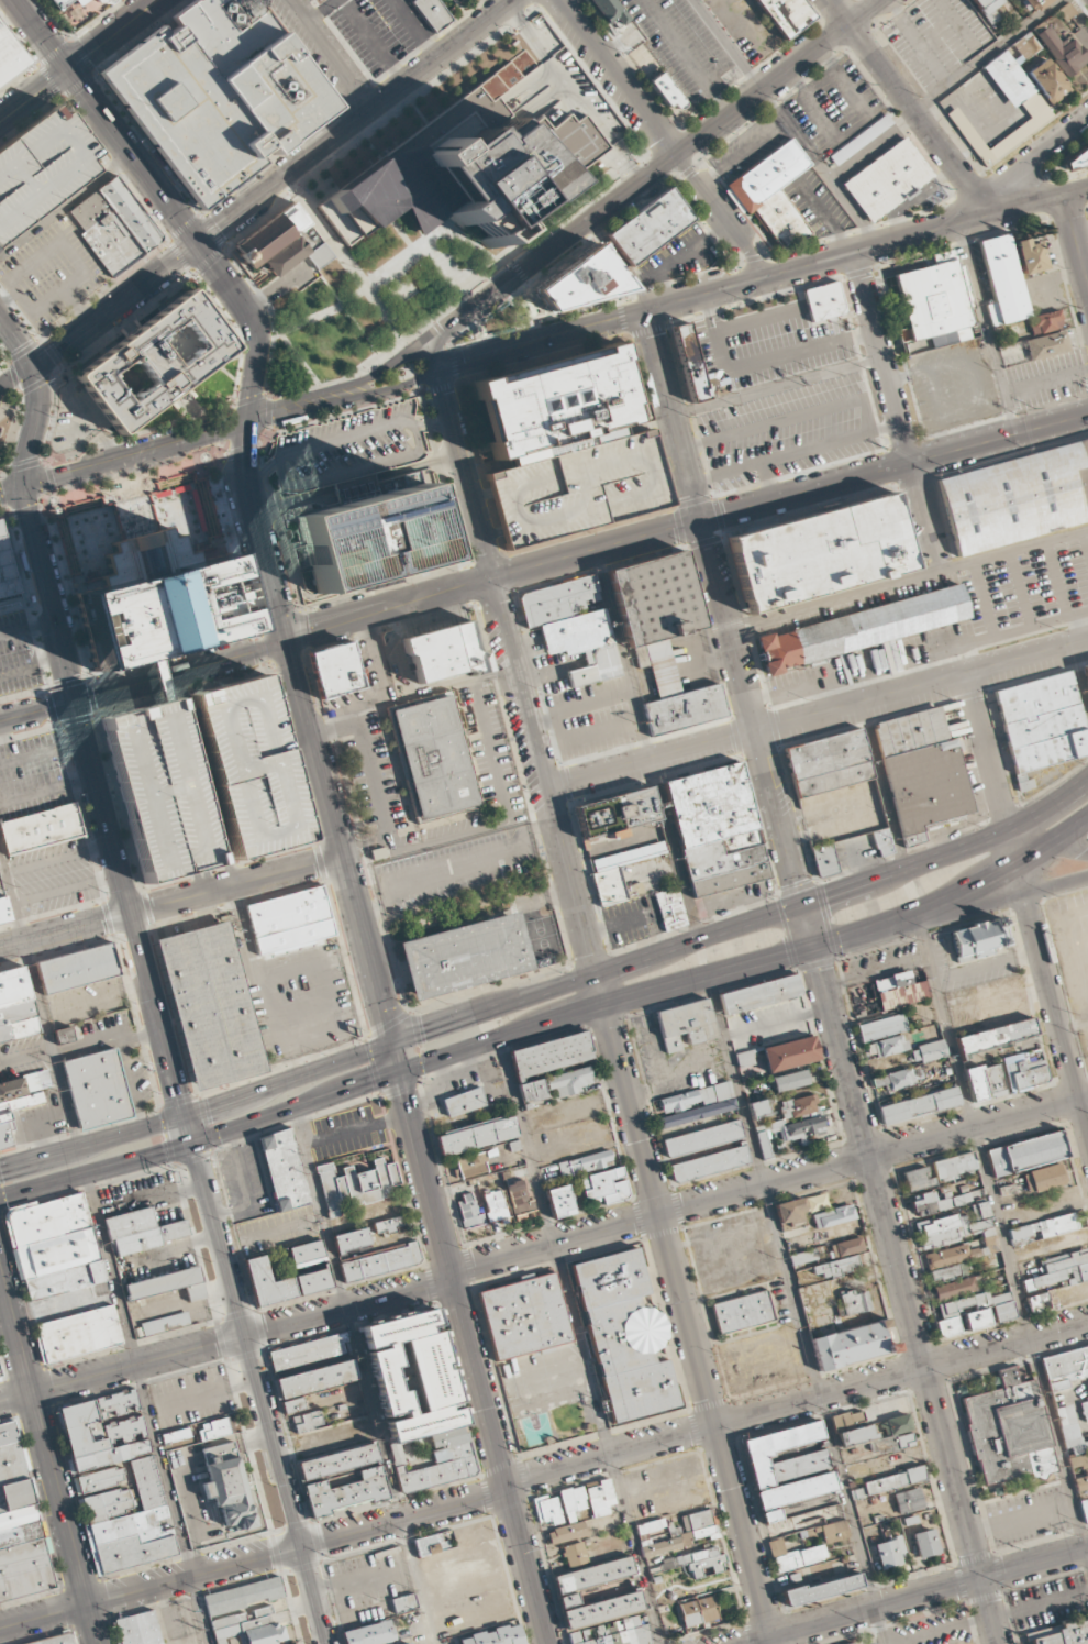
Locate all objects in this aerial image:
building: (81, 1)
building: (110, 2)
building: (60, 3)
building: (1036, 3)
road: (321, 11)
building: (988, 11)
road: (841, 12)
road: (867, 12)
building: (432, 14)
building: (610, 14)
building: (786, 14)
parking lot: (381, 31)
parking lot: (934, 34)
parking lot: (687, 44)
building: (1025, 46)
building: (1062, 49)
building: (10, 56)
road: (80, 60)
traffic signals: (69, 70)
building: (1008, 78)
building: (1047, 81)
building: (665, 91)
building: (219, 92)
road: (919, 120)
road: (107, 122)
road: (359, 122)
building: (1019, 133)
road: (664, 139)
building: (861, 140)
building: (1077, 158)
road: (1031, 162)
building: (40, 167)
parking garage: (40, 167)
road: (415, 169)
building: (509, 169)
building: (887, 180)
road: (1076, 191)
building: (771, 192)
road: (65, 202)
road: (613, 205)
road: (1025, 206)
building: (114, 227)
building: (650, 227)
road: (1075, 239)
building: (271, 243)
traffic signals: (198, 244)
building: (1030, 256)
building: (1002, 280)
building: (578, 282)
building: (936, 299)
road: (681, 301)
building: (824, 301)
road: (115, 306)
building: (1045, 322)
road: (253, 324)
road: (991, 329)
road: (16, 341)
parking lot: (766, 343)
building: (1048, 344)
building: (689, 362)
building: (152, 363)
traffic signals: (32, 366)
road: (15, 377)
parking lot: (1048, 380)
building: (553, 400)
road: (312, 401)
road: (895, 409)
traffic signals: (248, 422)
park: (4, 427)
road: (34, 427)
parking lot: (788, 430)
road: (124, 460)
traffic signals: (22, 488)
building: (577, 488)
parking garage: (577, 488)
building: (1013, 498)
building: (369, 538)
railway: (1007, 549)
building: (820, 552)
road: (542, 563)
building: (7, 581)
parking lot: (1028, 589)
railway: (38, 604)
building: (160, 611)
building: (574, 625)
building: (861, 629)
building: (663, 637)
building: (444, 653)
parking lot: (16, 654)
parking lot: (1037, 667)
building: (335, 670)
building: (1086, 673)
road: (817, 716)
building: (1040, 725)
road: (312, 748)
building: (433, 755)
building: (249, 766)
building: (921, 773)
parking lot: (32, 777)
building: (835, 787)
building: (162, 790)
road: (100, 802)
building: (615, 814)
building: (42, 828)
building: (717, 829)
building: (882, 842)
road: (1047, 842)
building: (823, 860)
parking lot: (455, 868)
building: (618, 871)
parking lot: (54, 876)
traffic signals: (796, 880)
building: (633, 891)
building: (0, 892)
traffic signals: (826, 897)
road: (1002, 897)
road: (1023, 901)
road: (170, 903)
building: (669, 909)
building: (3, 912)
building: (291, 919)
building: (980, 937)
traffic signals: (784, 955)
building: (465, 956)
road: (640, 957)
road: (751, 964)
building: (78, 968)
traffic signals: (821, 971)
railway: (135, 974)
road: (822, 978)
railway: (142, 987)
building: (900, 990)
building: (761, 993)
building: (211, 1004)
parking lot: (301, 1005)
building: (1003, 1005)
building: (15, 1006)
road: (604, 1006)
building: (686, 1024)
traffic signals: (424, 1030)
building: (885, 1033)
building: (64, 1035)
building: (997, 1035)
road: (49, 1045)
building: (789, 1052)
building: (551, 1055)
building: (744, 1059)
building: (917, 1066)
building: (1029, 1072)
building: (790, 1080)
building: (568, 1081)
building: (986, 1081)
traffic signals: (368, 1082)
building: (98, 1088)
building: (23, 1090)
building: (532, 1091)
traffic signals: (177, 1093)
traffic signals: (402, 1095)
building: (464, 1102)
building: (696, 1104)
building: (919, 1105)
traffic signals: (210, 1106)
building: (798, 1106)
building: (758, 1108)
road: (187, 1129)
building: (4, 1130)
parking lot: (345, 1133)
building: (788, 1133)
building: (477, 1135)
building: (702, 1138)
road: (200, 1140)
road: (91, 1141)
traffic signals: (162, 1152)
building: (1026, 1154)
building: (585, 1163)
building: (709, 1163)
building: (471, 1165)
traffic signals: (2, 1167)
building: (954, 1167)
building: (284, 1170)
building: (1045, 1178)
building: (917, 1179)
building: (355, 1185)
building: (604, 1187)
building: (519, 1199)
building: (559, 1202)
building: (817, 1202)
building: (935, 1203)
building: (495, 1205)
building: (979, 1211)
building: (468, 1212)
building: (790, 1212)
building: (833, 1216)
building: (47, 1221)
building: (389, 1225)
building: (1042, 1228)
building: (142, 1231)
parking lot: (277, 1232)
building: (955, 1232)
road: (1000, 1233)
building: (351, 1239)
road: (542, 1246)
building: (846, 1247)
building: (56, 1254)
building: (307, 1254)
building: (948, 1256)
building: (802, 1257)
building: (380, 1261)
building: (841, 1266)
building: (1061, 1270)
building: (948, 1272)
building: (64, 1280)
building: (312, 1281)
building: (267, 1283)
building: (168, 1284)
building: (954, 1288)
road: (791, 1293)
building: (854, 1302)
building: (1041, 1302)
building: (67, 1303)
building: (743, 1312)
building: (973, 1313)
building: (524, 1315)
building: (166, 1323)
building: (398, 1326)
building: (641, 1331)
building: (78, 1333)
building: (604, 1337)
road: (578, 1339)
building: (851, 1344)
building: (308, 1351)
road: (471, 1358)
building: (1064, 1367)
building: (0, 1371)
building: (430, 1372)
road: (364, 1377)
building: (317, 1379)
building: (0, 1380)
building: (388, 1382)
road: (258, 1393)
parking lot: (191, 1398)
building: (293, 1404)
road: (147, 1409)
building: (1085, 1409)
building: (308, 1421)
building: (847, 1421)
building: (423, 1423)
building: (897, 1424)
building: (80, 1428)
building: (215, 1430)
building: (1008, 1431)
building: (8, 1433)
building: (176, 1435)
building: (855, 1435)
building: (201, 1436)
building: (1073, 1438)
building: (904, 1441)
building: (776, 1449)
road: (48, 1459)
building: (337, 1461)
building: (11, 1463)
building: (800, 1466)
road: (543, 1472)
parking lot: (621, 1474)
building: (429, 1475)
building: (99, 1480)
building: (888, 1482)
building: (1080, 1482)
building: (227, 1485)
parking lot: (665, 1487)
building: (347, 1491)
building: (16, 1493)
building: (792, 1493)
building: (600, 1494)
building: (910, 1500)
building: (571, 1501)
building: (547, 1509)
building: (1084, 1510)
building: (19, 1516)
parking lot: (1028, 1516)
building: (697, 1520)
building: (648, 1526)
building: (834, 1532)
building: (566, 1533)
building: (704, 1533)
building: (685, 1537)
road: (1042, 1540)
building: (926, 1542)
building: (429, 1545)
building: (22, 1552)
building: (891, 1552)
building: (574, 1554)
building: (795, 1556)
road: (975, 1558)
building: (667, 1563)
building: (704, 1564)
building: (592, 1575)
building: (25, 1577)
parking lot: (369, 1578)
road: (868, 1587)
building: (822, 1589)
building: (243, 1596)
road: (919, 1597)
building: (568, 1600)
building: (403, 1603)
parking lot: (1048, 1603)
building: (601, 1609)
building: (699, 1611)
road: (764, 1615)
building: (248, 1629)
building: (138, 1630)
parking lot: (932, 1630)
road: (704, 1632)
building: (618, 1633)
building: (365, 1634)
building: (1067, 1634)
building: (495, 1636)
building: (57, 1640)
building: (852, 1643)

